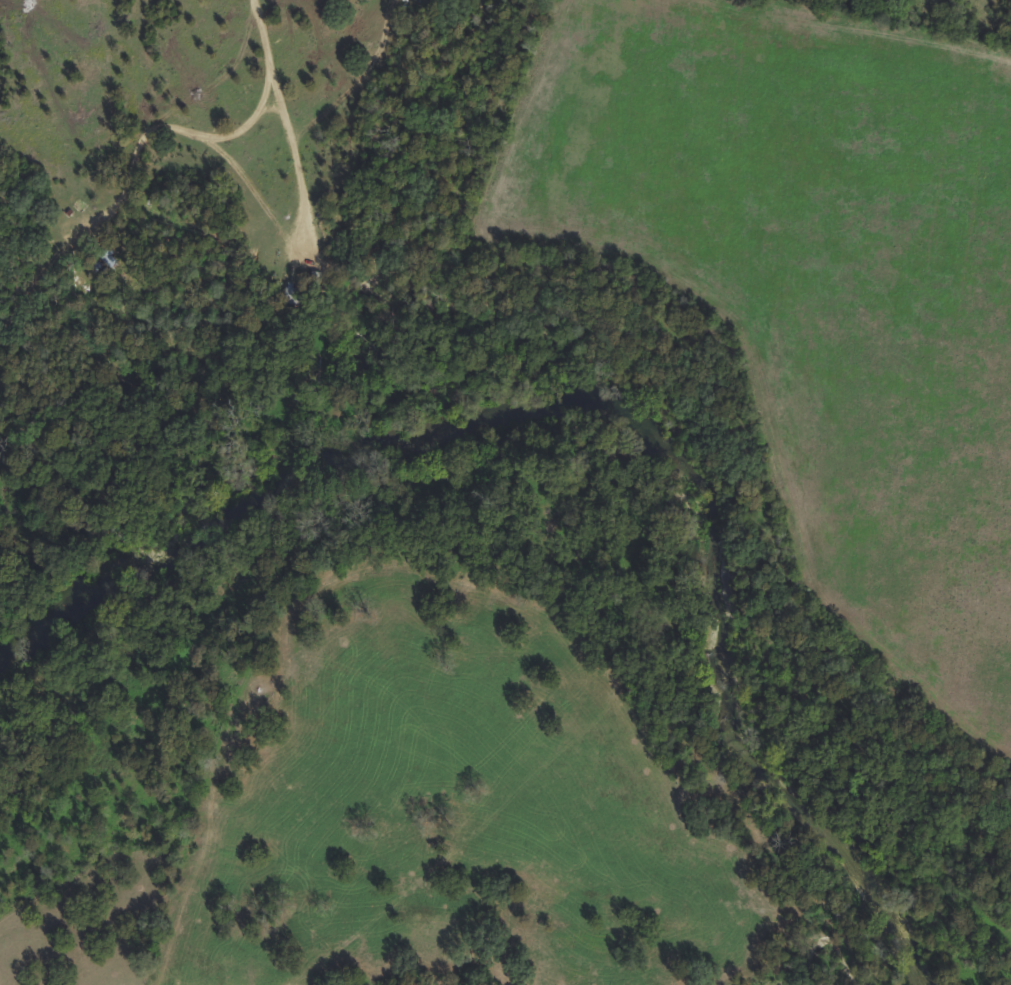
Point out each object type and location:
road: (206, 138)

